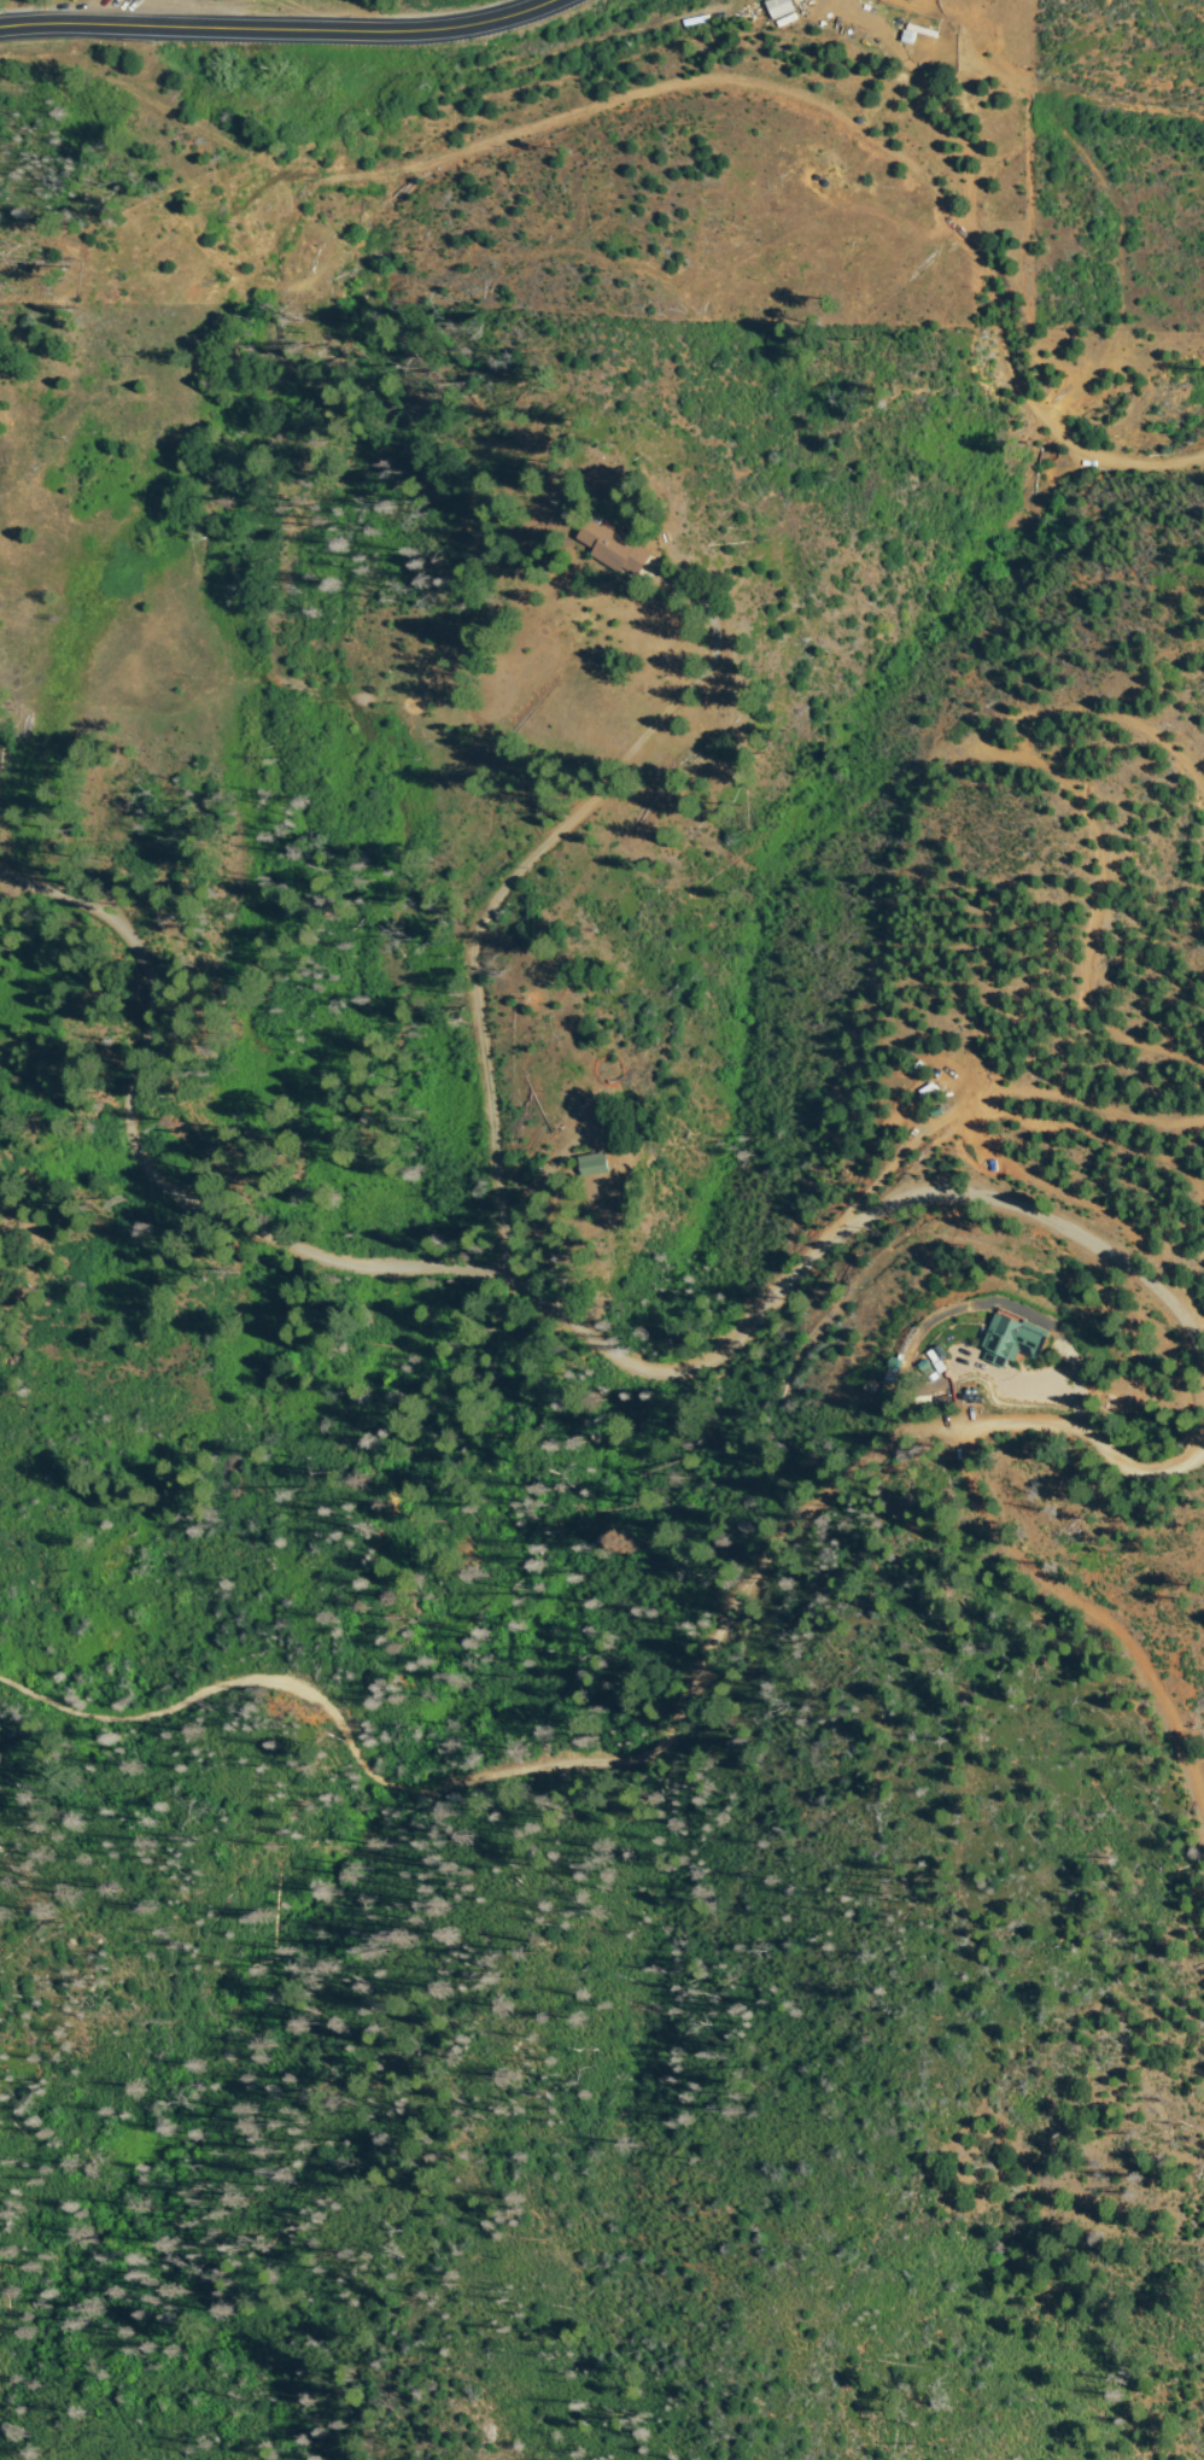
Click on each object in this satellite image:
building: (779, 7)
building: (694, 21)
road: (290, 36)
building: (930, 36)
road: (984, 292)
building: (618, 544)
road: (1046, 785)
road: (493, 908)
building: (936, 1112)
road: (977, 1156)
building: (595, 1165)
road: (124, 1184)
building: (635, 1200)
road: (832, 1240)
building: (1005, 1350)
building: (940, 1354)
building: (927, 1368)
building: (892, 1372)
building: (870, 1391)
building: (941, 1402)
road: (1076, 1597)
road: (685, 1711)

